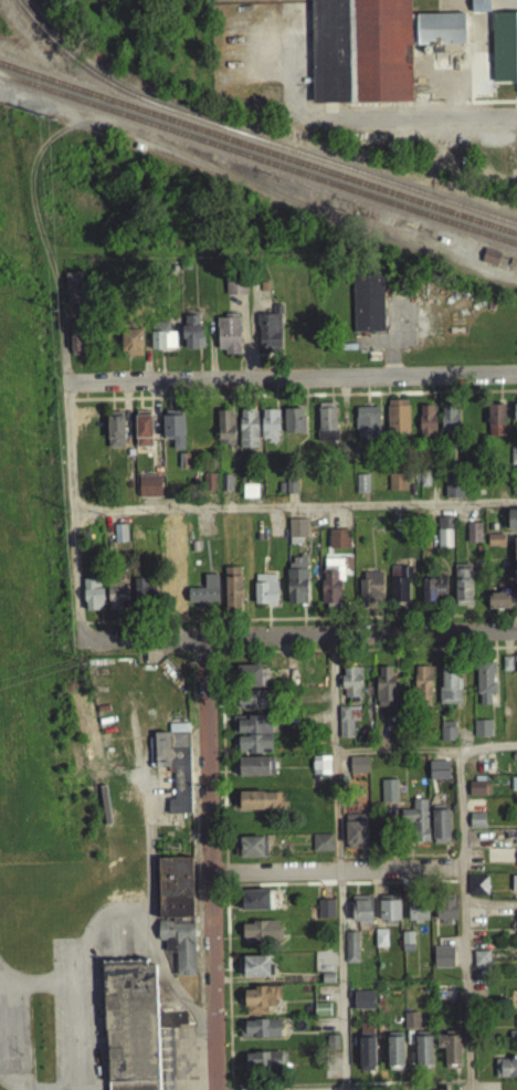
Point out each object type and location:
building: (479, 10)
building: (370, 52)
railway: (71, 53)
building: (504, 53)
road: (423, 115)
railway: (258, 150)
railway: (324, 157)
railway: (258, 160)
building: (489, 263)
building: (234, 292)
building: (73, 294)
building: (367, 310)
building: (191, 338)
building: (268, 339)
building: (228, 340)
building: (77, 344)
building: (162, 344)
building: (130, 348)
road: (296, 376)
building: (515, 421)
building: (397, 422)
building: (449, 425)
building: (495, 426)
building: (293, 427)
building: (326, 428)
building: (426, 428)
building: (367, 429)
building: (268, 431)
building: (172, 433)
building: (224, 433)
building: (143, 434)
building: (247, 434)
building: (115, 436)
building: (513, 462)
building: (397, 488)
building: (209, 489)
building: (361, 490)
building: (149, 492)
building: (453, 494)
road: (71, 510)
road: (294, 512)
building: (511, 525)
building: (297, 536)
building: (443, 538)
building: (473, 538)
building: (119, 539)
building: (338, 545)
building: (495, 546)
building: (515, 565)
building: (296, 586)
building: (331, 588)
building: (399, 589)
building: (462, 593)
building: (232, 594)
building: (370, 594)
building: (144, 596)
building: (204, 596)
building: (264, 596)
building: (433, 596)
building: (92, 601)
building: (117, 602)
building: (500, 605)
road: (304, 635)
building: (516, 668)
building: (506, 670)
building: (250, 682)
building: (350, 688)
building: (485, 690)
building: (450, 691)
building: (422, 692)
building: (384, 693)
road: (333, 695)
building: (253, 705)
building: (347, 726)
building: (481, 734)
building: (446, 737)
building: (253, 740)
road: (342, 752)
building: (175, 771)
building: (358, 771)
building: (253, 773)
building: (476, 795)
building: (388, 797)
building: (258, 807)
building: (476, 826)
building: (415, 827)
building: (440, 830)
building: (355, 837)
building: (321, 849)
building: (252, 852)
road: (210, 862)
road: (335, 870)
building: (514, 889)
road: (461, 890)
building: (477, 891)
building: (254, 905)
road: (117, 906)
building: (416, 913)
building: (325, 914)
building: (361, 914)
building: (389, 914)
building: (177, 916)
building: (445, 918)
building: (474, 923)
building: (260, 937)
building: (380, 944)
building: (407, 947)
building: (350, 953)
building: (442, 963)
building: (481, 965)
building: (255, 973)
road: (340, 979)
building: (260, 1006)
building: (362, 1006)
building: (321, 1016)
building: (178, 1025)
building: (411, 1026)
building: (133, 1031)
building: (258, 1035)
building: (331, 1050)
building: (366, 1051)
building: (394, 1055)
building: (423, 1055)
building: (450, 1055)
building: (264, 1068)
building: (506, 1073)
road: (82, 1077)
road: (203, 1082)

